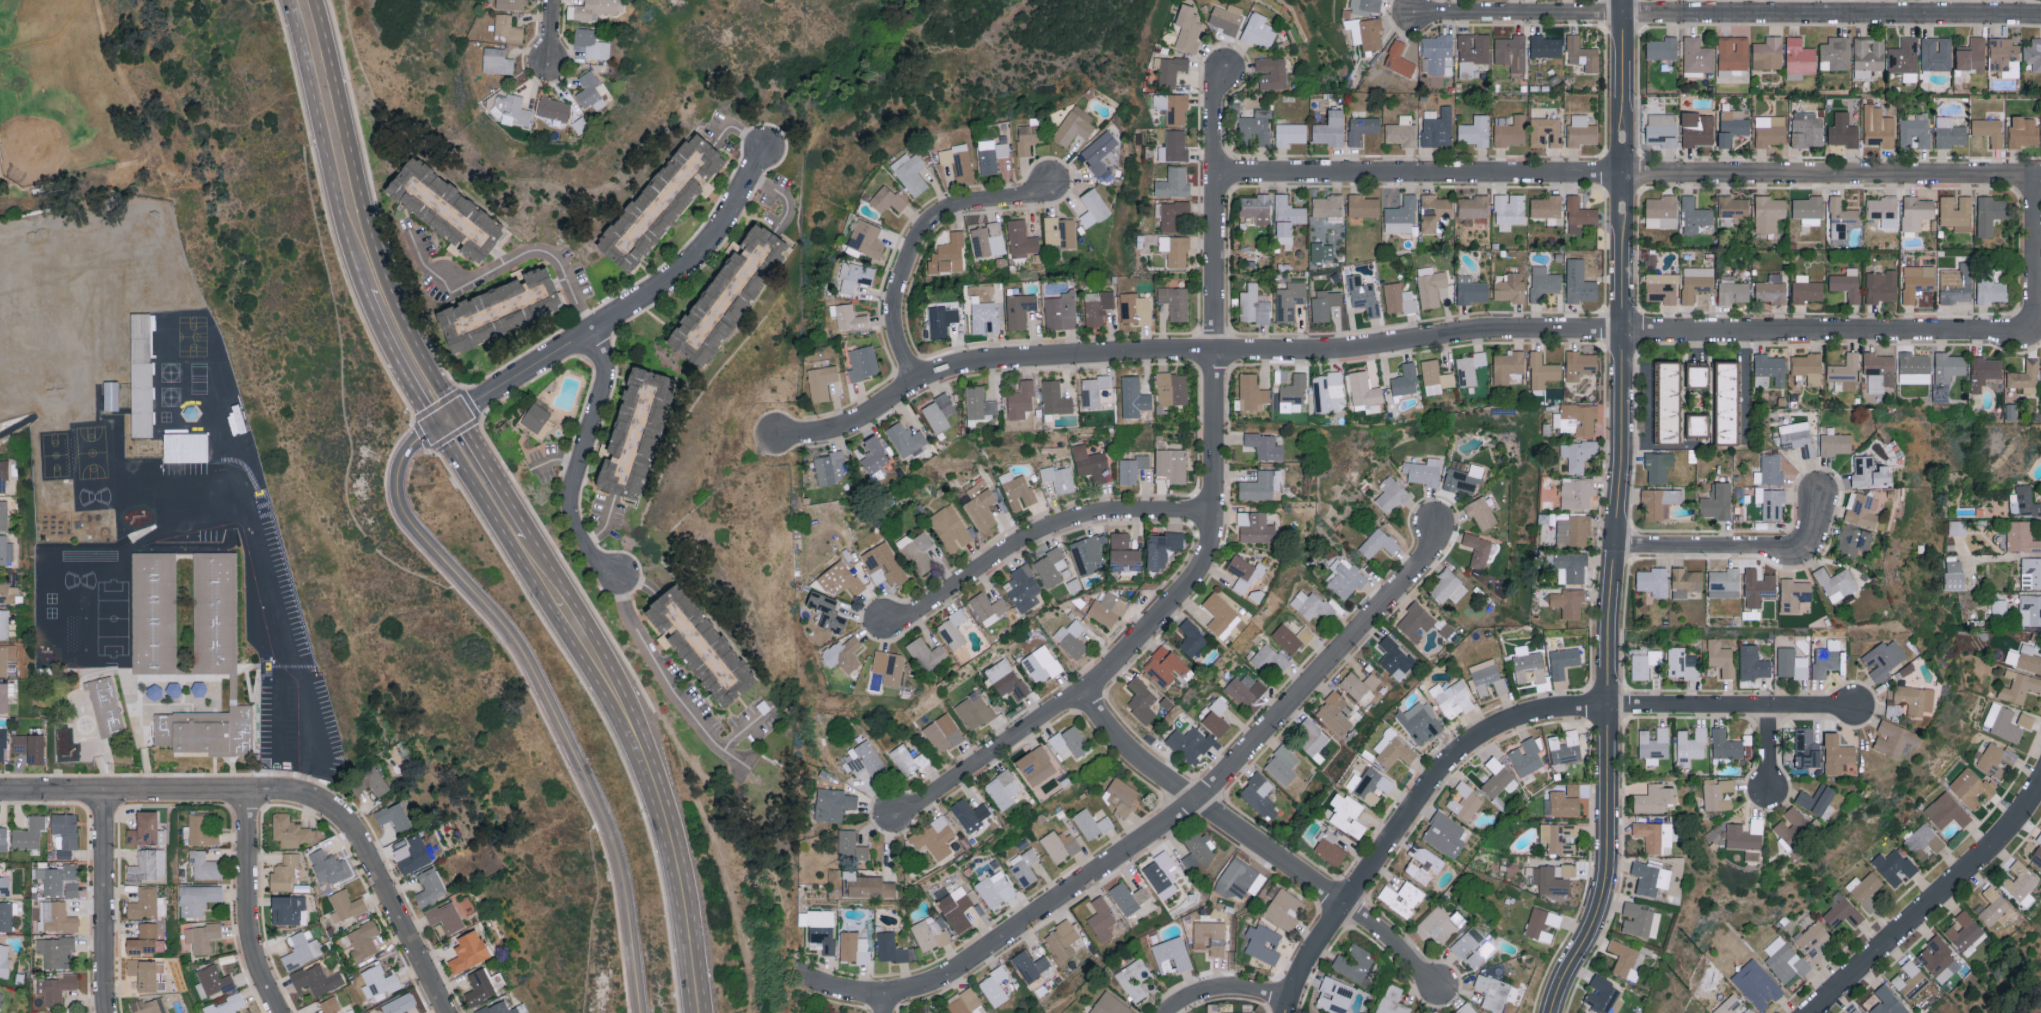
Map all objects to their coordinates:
building: (511, 4)
building: (1365, 6)
building: (593, 8)
road: (1726, 12)
building: (1226, 17)
park: (33, 20)
building: (508, 27)
building: (1188, 28)
building: (1258, 30)
building: (1366, 32)
road: (552, 33)
building: (591, 43)
building: (1545, 46)
building: (1661, 48)
building: (1511, 51)
building: (1472, 52)
building: (1582, 53)
building: (1768, 53)
building: (1835, 53)
building: (1936, 53)
building: (2033, 53)
building: (1436, 54)
building: (1971, 54)
building: (1697, 55)
building: (1868, 55)
building: (2004, 55)
building: (1733, 57)
building: (1799, 58)
building: (1399, 59)
building: (1904, 59)
building: (497, 60)
building: (1170, 70)
building: (1271, 72)
building: (590, 90)
park: (67, 106)
building: (1172, 107)
building: (554, 108)
building: (512, 109)
park: (54, 123)
building: (1074, 126)
building: (1437, 126)
building: (1732, 126)
building: (1255, 127)
building: (1330, 128)
building: (1361, 128)
road: (736, 129)
building: (1662, 129)
building: (1698, 129)
building: (1807, 129)
building: (1878, 129)
building: (1510, 130)
building: (1581, 130)
building: (1770, 130)
building: (1843, 130)
building: (1915, 130)
building: (1989, 130)
building: (2023, 130)
building: (1400, 131)
building: (1475, 131)
building: (1545, 131)
building: (1950, 132)
building: (1291, 133)
building: (1028, 137)
road: (323, 146)
building: (1174, 146)
building: (1098, 152)
building: (991, 155)
building: (956, 158)
building: (910, 172)
road: (1629, 172)
building: (1173, 183)
road: (22, 192)
building: (887, 199)
road: (783, 201)
building: (663, 203)
building: (1327, 205)
building: (1362, 205)
building: (1472, 206)
building: (1733, 206)
building: (1093, 207)
building: (1256, 208)
building: (1548, 208)
building: (1808, 209)
building: (1509, 210)
building: (1883, 210)
building: (1434, 211)
building: (1662, 211)
building: (1916, 212)
building: (1171, 213)
building: (1769, 213)
building: (1956, 213)
building: (1991, 213)
building: (1579, 214)
road: (366, 215)
building: (446, 215)
building: (1401, 215)
building: (1694, 215)
building: (1841, 217)
building: (1287, 218)
building: (1706, 228)
building: (1060, 231)
building: (866, 238)
building: (1021, 239)
building: (987, 240)
road: (916, 241)
road: (2033, 243)
building: (1175, 250)
building: (1322, 251)
building: (948, 255)
road: (498, 258)
road: (503, 268)
building: (855, 275)
building: (1917, 281)
building: (1543, 282)
building: (1579, 282)
building: (1696, 282)
building: (1847, 283)
building: (1956, 283)
building: (1430, 286)
building: (1881, 286)
building: (1509, 287)
building: (1662, 287)
building: (1806, 288)
building: (1991, 288)
building: (1771, 289)
building: (1471, 290)
building: (1733, 291)
building: (1363, 295)
building: (728, 296)
building: (1398, 298)
building: (1289, 300)
building: (1175, 302)
building: (1325, 303)
road: (636, 304)
building: (1254, 305)
building: (1097, 306)
building: (1135, 307)
building: (1019, 310)
building: (1060, 311)
building: (499, 313)
building: (848, 316)
building: (984, 316)
building: (941, 320)
road: (1405, 343)
building: (863, 362)
road: (393, 363)
building: (1580, 364)
building: (1507, 365)
building: (1948, 366)
building: (1469, 367)
building: (1770, 367)
building: (1808, 367)
building: (1845, 368)
building: (1914, 368)
building: (1879, 371)
building: (1984, 372)
building: (1698, 373)
building: (1435, 377)
building: (2025, 377)
building: (1404, 380)
building: (821, 381)
road: (1746, 385)
building: (1172, 388)
building: (1363, 388)
building: (143, 389)
building: (1094, 389)
building: (1328, 391)
building: (1252, 392)
building: (1292, 394)
building: (110, 395)
building: (1055, 398)
building: (1135, 399)
building: (1021, 400)
building: (1666, 401)
building: (1727, 401)
building: (979, 403)
road: (1647, 405)
building: (1368, 407)
building: (232, 412)
building: (938, 412)
traffic signals: (458, 416)
building: (536, 419)
building: (1576, 419)
road: (446, 423)
building: (1697, 425)
road: (15, 426)
traffic signals: (434, 431)
building: (635, 436)
building: (1797, 437)
building: (906, 439)
building: (183, 443)
building: (1836, 444)
building: (1264, 446)
road: (522, 450)
building: (1578, 454)
building: (874, 455)
road: (556, 457)
road: (580, 460)
building: (1091, 463)
building: (1171, 464)
building: (1658, 466)
building: (830, 468)
building: (1132, 468)
building: (1769, 469)
building: (1423, 471)
building: (1869, 472)
road: (493, 475)
building: (3, 476)
building: (1058, 478)
building: (1462, 479)
building: (1262, 486)
building: (1577, 493)
building: (1391, 494)
building: (1658, 501)
building: (1717, 501)
building: (2023, 501)
building: (1771, 502)
building: (981, 505)
building: (1861, 509)
building: (1481, 512)
road: (1615, 512)
building: (3, 514)
road: (1212, 520)
road: (602, 522)
building: (1255, 527)
building: (1957, 527)
building: (951, 528)
building: (1573, 530)
road: (498, 531)
road: (1039, 537)
building: (2021, 537)
building: (1852, 541)
building: (1378, 543)
road: (1734, 545)
building: (1162, 548)
building: (5, 549)
building: (1479, 550)
building: (917, 551)
building: (1123, 553)
building: (1089, 555)
building: (883, 564)
building: (1050, 567)
building: (1570, 567)
building: (1244, 573)
building: (2031, 573)
road: (556, 576)
building: (1954, 576)
building: (1345, 578)
building: (840, 579)
building: (1653, 581)
building: (1686, 581)
road: (272, 582)
road: (640, 583)
building: (1724, 583)
building: (1836, 583)
building: (1448, 587)
building: (1758, 587)
building: (1023, 588)
building: (4, 589)
building: (1793, 594)
building: (1568, 603)
building: (1311, 605)
building: (988, 608)
building: (1107, 609)
building: (2030, 610)
building: (827, 612)
building: (1221, 614)
building: (155, 615)
building: (1416, 622)
building: (3, 623)
building: (1237, 628)
building: (953, 629)
building: (1291, 637)
building: (1071, 638)
building: (1192, 638)
building: (699, 646)
building: (926, 653)
building: (843, 654)
building: (1721, 657)
building: (1826, 658)
building: (1884, 658)
building: (1269, 659)
building: (3, 660)
building: (1563, 662)
building: (1644, 662)
building: (1681, 663)
building: (1753, 663)
building: (1041, 664)
building: (1791, 664)
building: (888, 666)
building: (1165, 666)
building: (1529, 666)
building: (213, 671)
road: (667, 678)
building: (1487, 678)
building: (1006, 679)
building: (2019, 686)
building: (1361, 688)
building: (1245, 689)
building: (4, 696)
road: (545, 698)
building: (1452, 698)
building: (1915, 699)
building: (1141, 700)
road: (1731, 706)
building: (1894, 708)
building: (974, 710)
building: (97, 712)
road: (271, 712)
building: (1335, 713)
building: (1216, 718)
building: (2026, 720)
building: (1420, 722)
building: (2003, 723)
road: (745, 729)
building: (943, 732)
building: (1894, 738)
building: (1312, 739)
building: (66, 743)
building: (1069, 743)
building: (1188, 744)
building: (29, 745)
building: (1654, 745)
building: (1725, 745)
building: (1690, 746)
building: (1564, 747)
road: (1766, 748)
building: (1807, 748)
building: (1392, 749)
building: (1837, 754)
building: (1995, 758)
building: (908, 759)
building: (1282, 765)
building: (1036, 766)
building: (1498, 779)
building: (370, 782)
building: (1370, 785)
building: (1972, 787)
building: (1003, 789)
road: (161, 791)
building: (1717, 793)
building: (1121, 796)
building: (1259, 796)
building: (1654, 798)
building: (1816, 799)
building: (1563, 801)
building: (1465, 802)
building: (833, 803)
road: (658, 809)
road: (1407, 811)
building: (1947, 811)
building: (970, 814)
building: (1347, 815)
building: (394, 817)
building: (1091, 824)
road: (1160, 824)
building: (1792, 825)
building: (65, 830)
building: (145, 830)
building: (202, 831)
building: (289, 831)
building: (29, 833)
building: (1445, 834)
building: (1745, 835)
building: (1655, 836)
building: (934, 837)
building: (1558, 837)
building: (3, 838)
building: (1923, 839)
road: (1256, 841)
building: (1060, 845)
building: (850, 846)
building: (1329, 848)
building: (1199, 853)
building: (2037, 853)
building: (415, 855)
building: (1422, 863)
building: (148, 865)
building: (205, 866)
building: (328, 866)
building: (1024, 866)
building: (1895, 866)
building: (1564, 870)
building: (284, 872)
building: (1161, 876)
building: (55, 877)
building: (1237, 878)
building: (1650, 878)
building: (2019, 880)
building: (1549, 881)
building: (4, 885)
building: (868, 886)
building: (430, 887)
building: (994, 887)
building: (72, 890)
building: (1865, 890)
building: (1402, 897)
building: (198, 899)
building: (1132, 901)
road: (105, 902)
road: (390, 902)
building: (146, 903)
road: (1933, 904)
road: (251, 905)
building: (345, 905)
building: (1993, 905)
building: (956, 908)
building: (1283, 909)
building: (287, 910)
building: (1843, 913)
building: (6, 916)
building: (56, 917)
building: (445, 917)
building: (1102, 920)
building: (1639, 920)
building: (1541, 924)
building: (1439, 925)
building: (147, 929)
building: (819, 929)
building: (1966, 933)
building: (929, 934)
building: (201, 937)
building: (1210, 937)
building: (361, 940)
building: (1064, 940)
building: (1814, 940)
building: (1263, 943)
building: (140, 946)
building: (1472, 947)
building: (854, 948)
building: (890, 948)
building: (301, 950)
building: (56, 951)
building: (468, 952)
building: (1172, 955)
building: (1939, 959)
building: (1625, 960)
building: (1783, 962)
building: (1354, 963)
building: (1030, 965)
building: (1802, 966)
building: (146, 974)
building: (317, 979)
building: (1134, 979)
building: (1910, 980)
building: (213, 982)
building: (378, 982)
building: (1757, 984)
building: (994, 986)
building: (56, 987)
building: (479, 987)
road: (1223, 988)
building: (1495, 992)
building: (1601, 994)
building: (1, 996)
building: (1335, 996)
building: (1392, 1001)
building: (1888, 1001)
building: (966, 1002)
building: (399, 1004)
building: (227, 1005)
building: (330, 1005)
road: (887, 1005)
building: (1110, 1005)
building: (1729, 1005)
building: (148, 1006)
building: (498, 1008)
building: (1466, 1009)
building: (1748, 1011)
building: (1857, 1011)
building: (69, 1012)
building: (835, 1012)
building: (1239, 1012)

